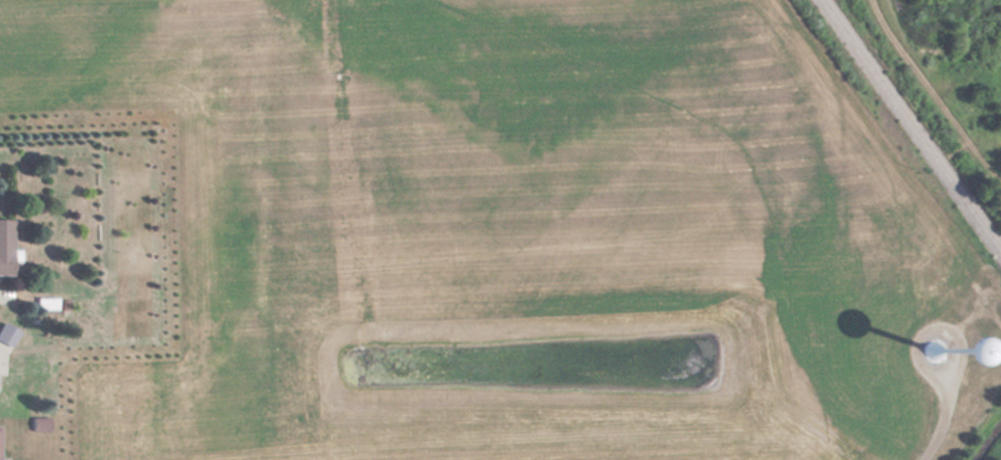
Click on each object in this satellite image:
railway: (911, 126)
building: (5, 245)
building: (135, 318)
building: (6, 334)
building: (914, 345)
water tower: (937, 346)
building: (39, 423)

